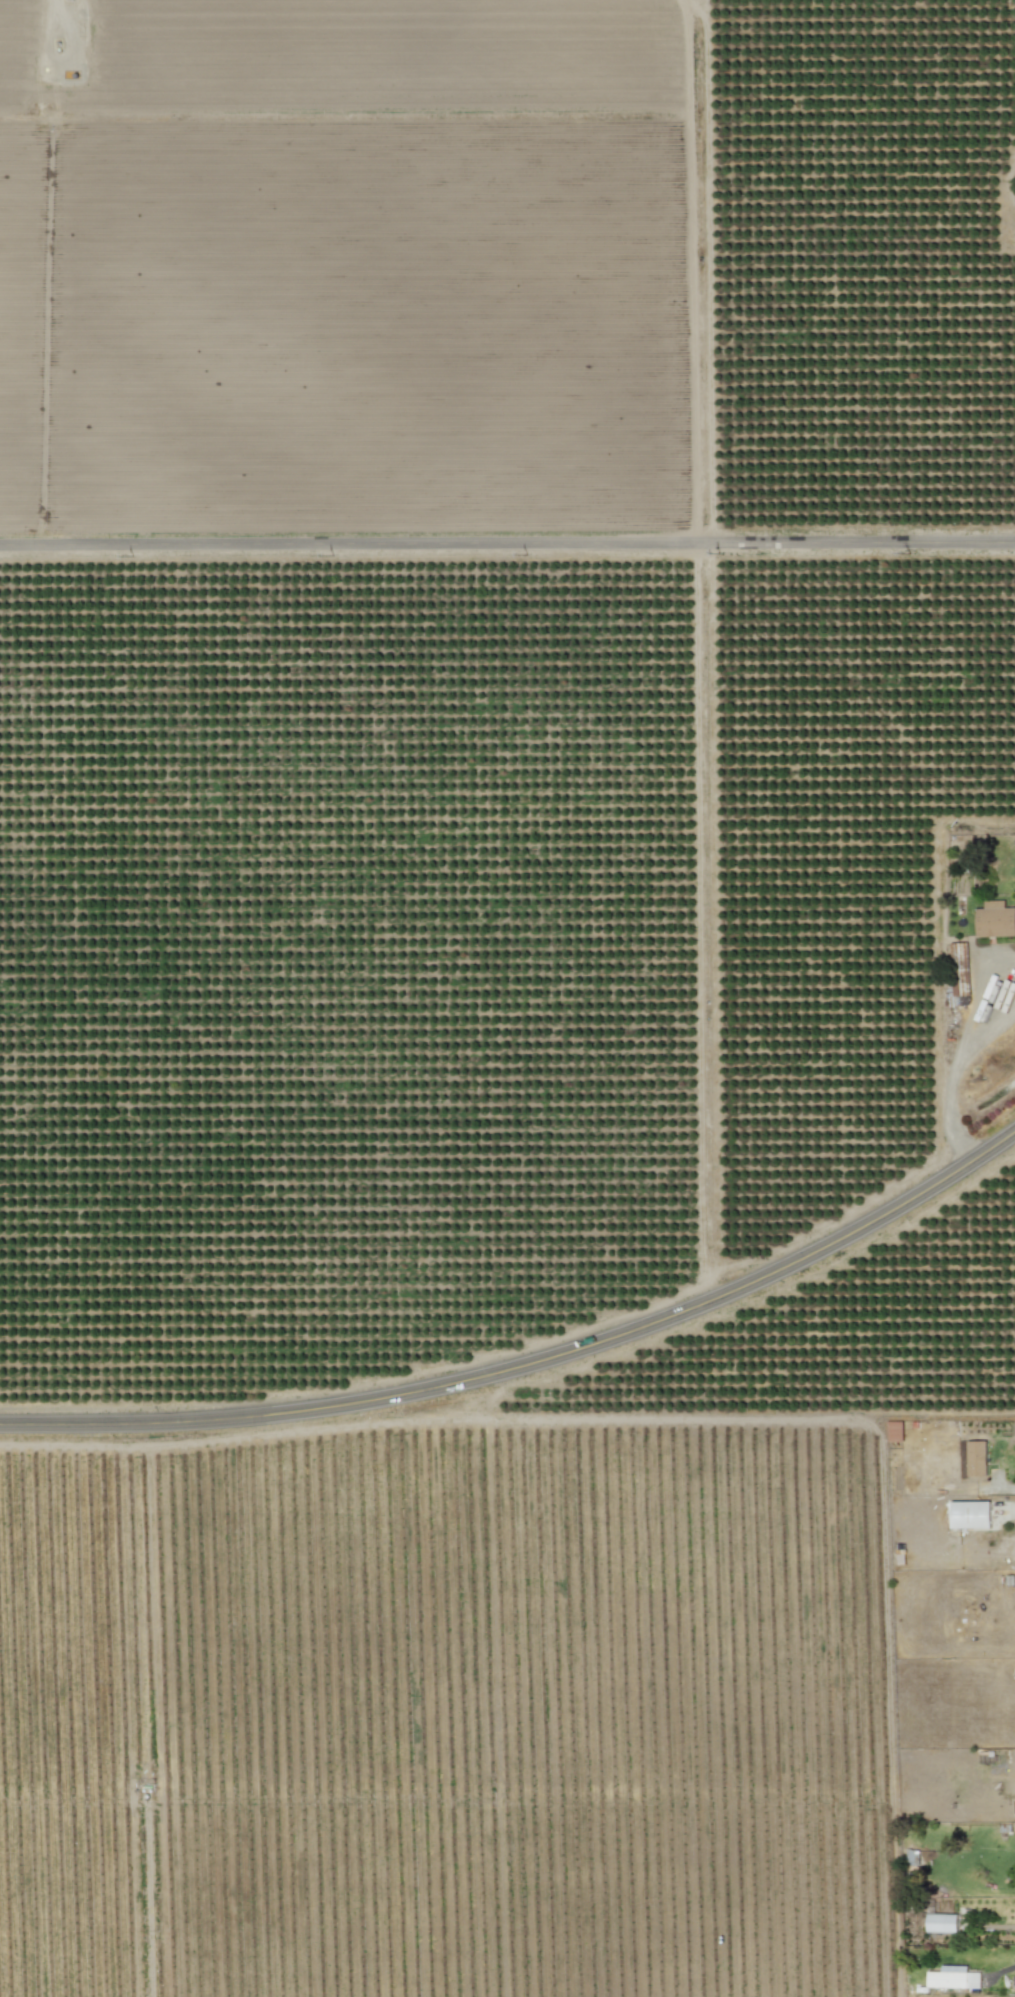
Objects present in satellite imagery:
road: (507, 542)
building: (995, 920)
building: (959, 968)
road: (956, 1059)
road: (531, 1362)
building: (894, 1431)
building: (976, 1458)
building: (969, 1514)
building: (941, 1922)
building: (953, 1977)

